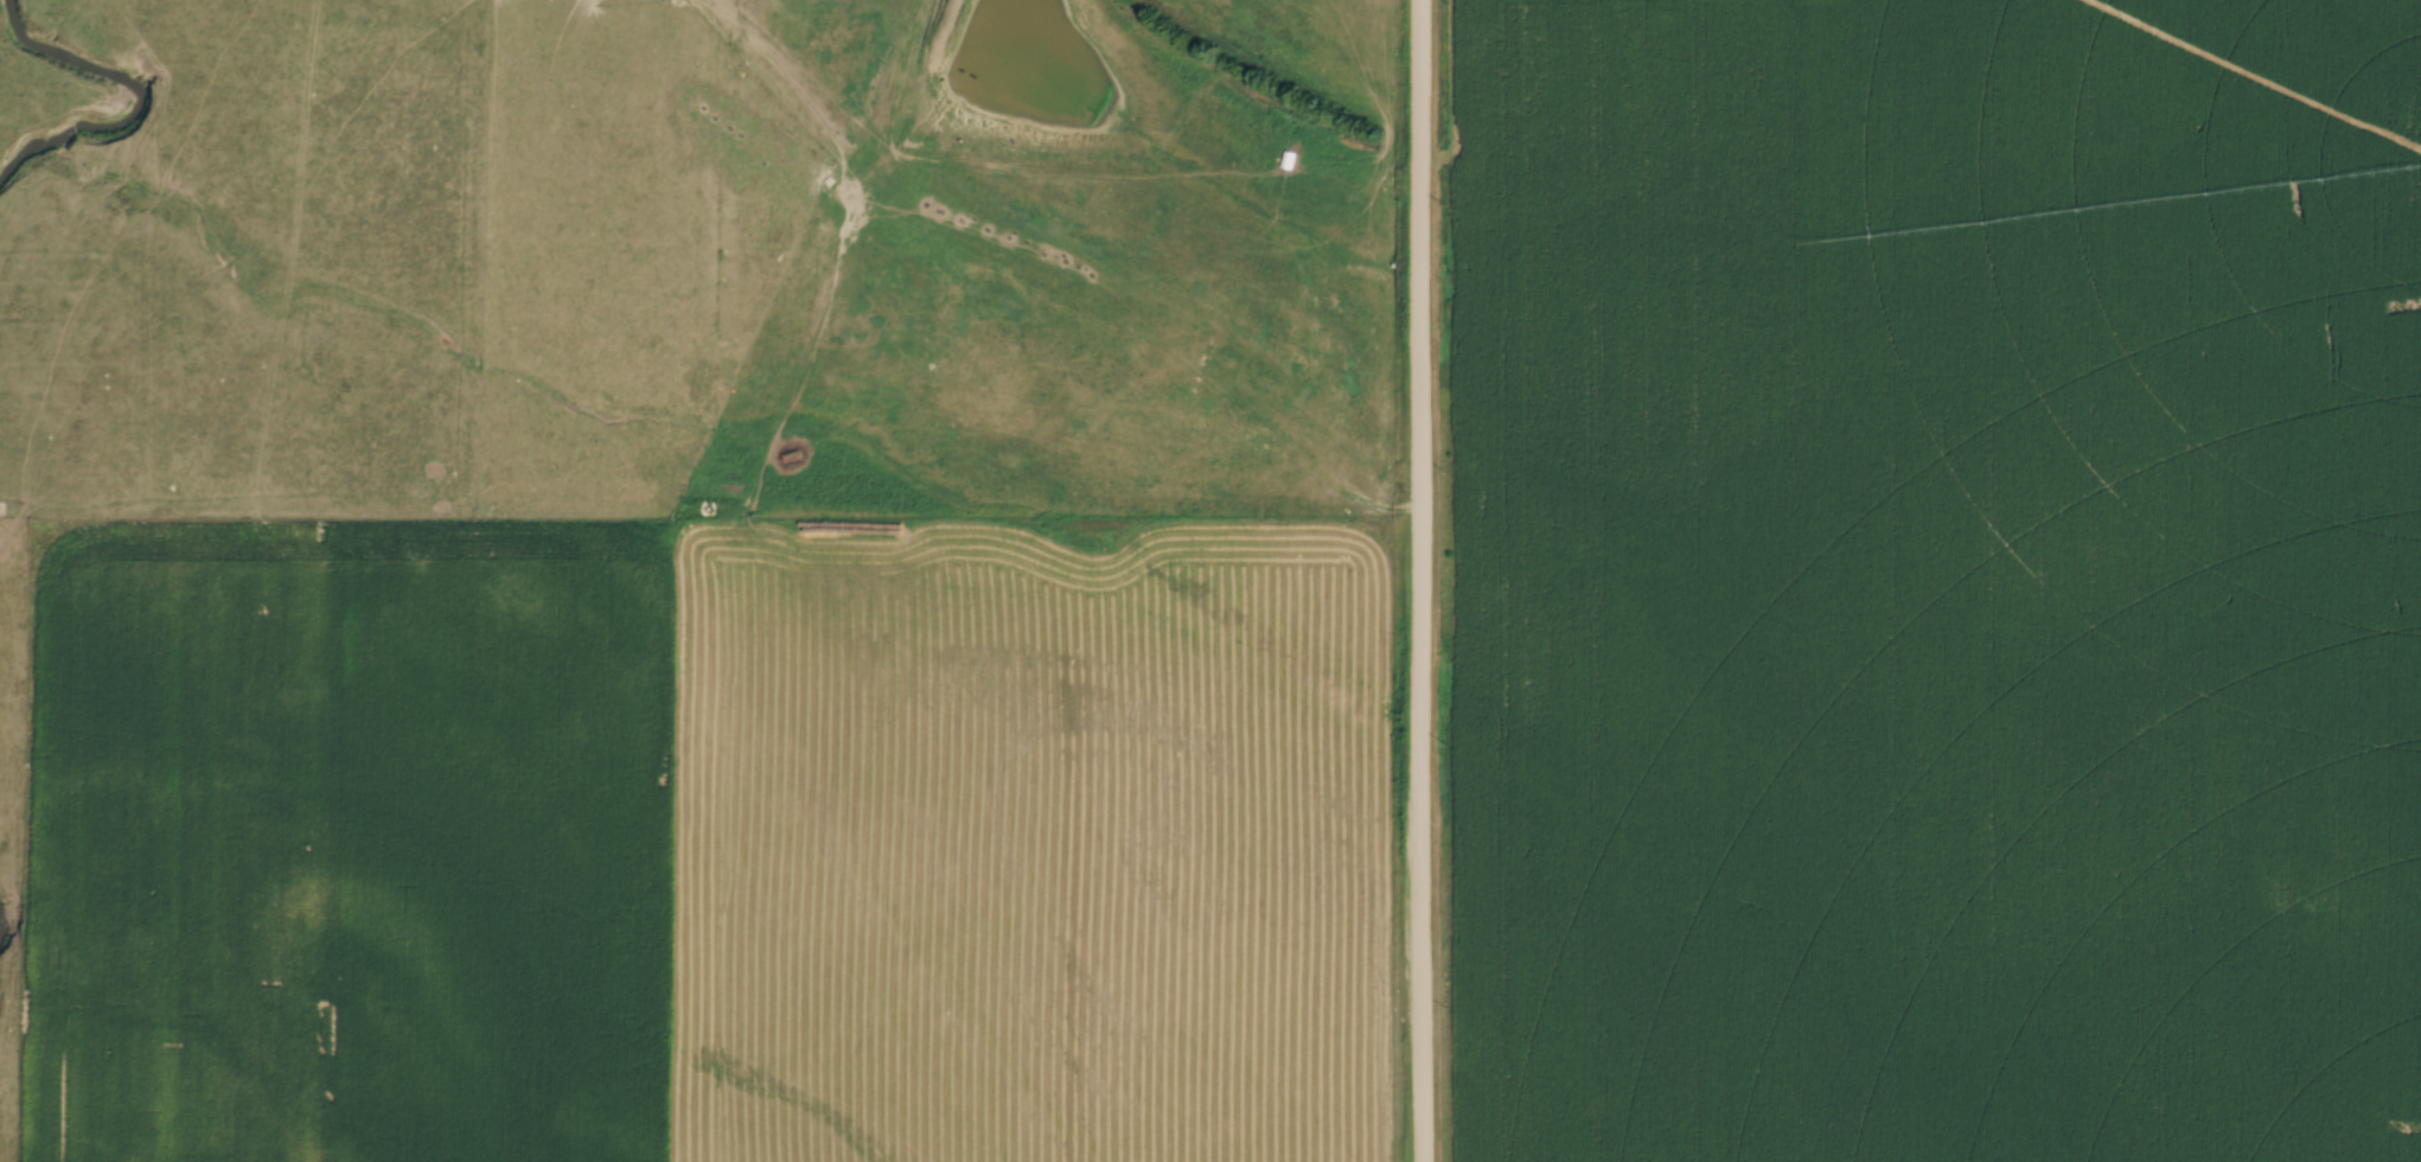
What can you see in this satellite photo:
river: (135, 96)
road: (1423, 581)

